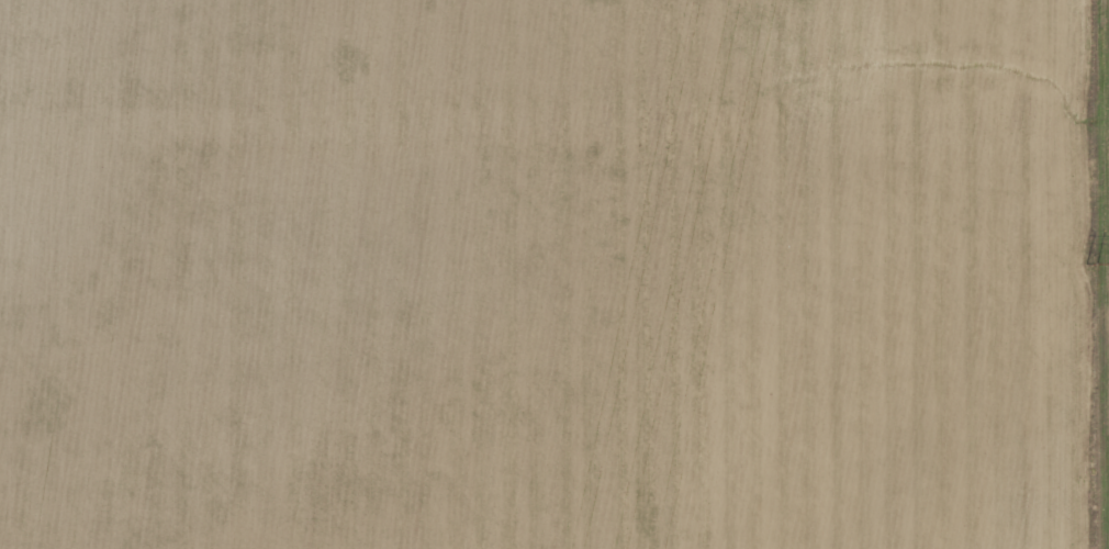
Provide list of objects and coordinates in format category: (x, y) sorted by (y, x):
power tower: (1088, 122)
power tower: (1089, 471)

